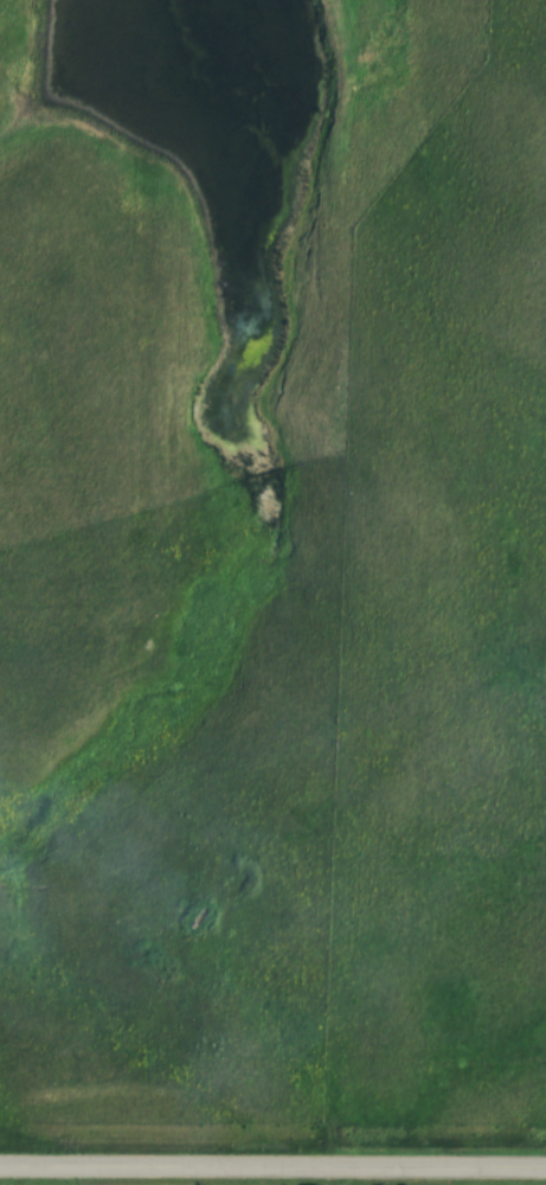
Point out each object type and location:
road: (272, 1172)

